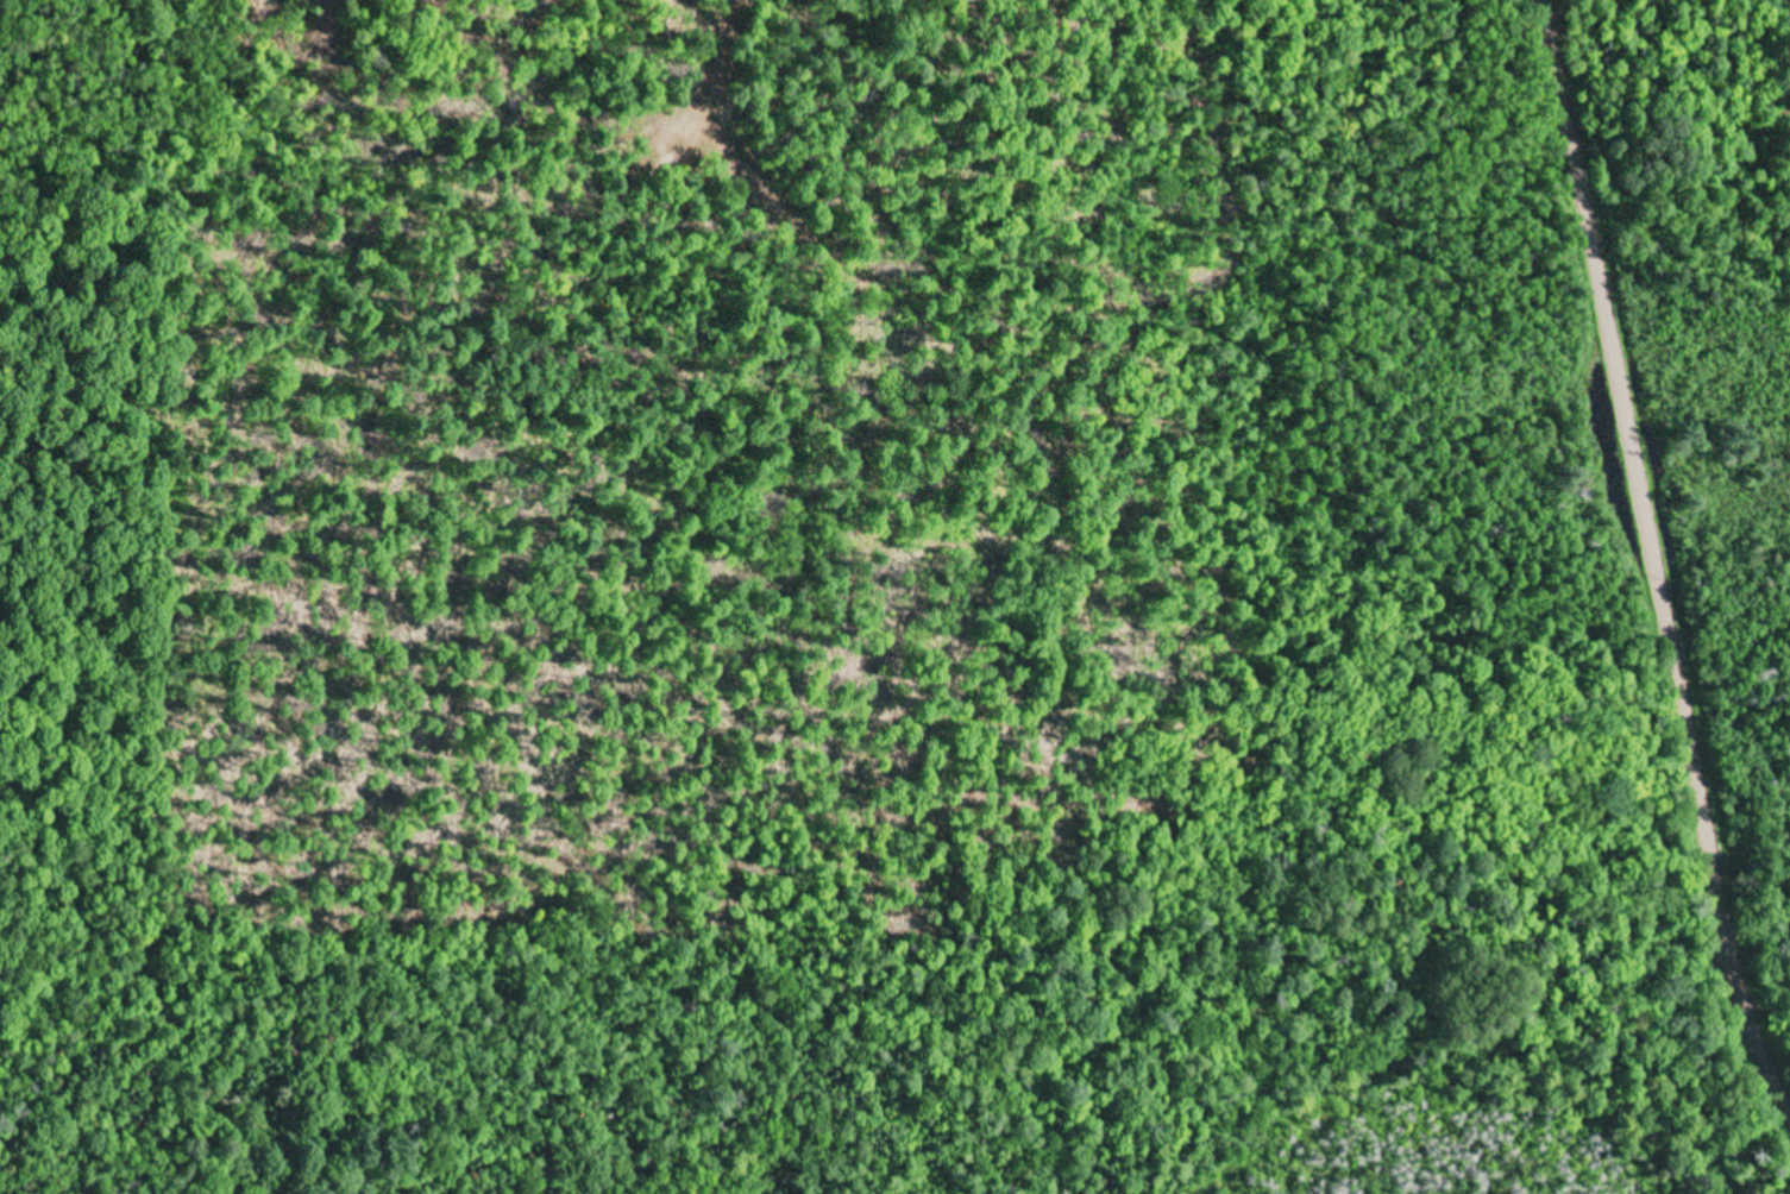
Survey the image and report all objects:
road: (1652, 566)

